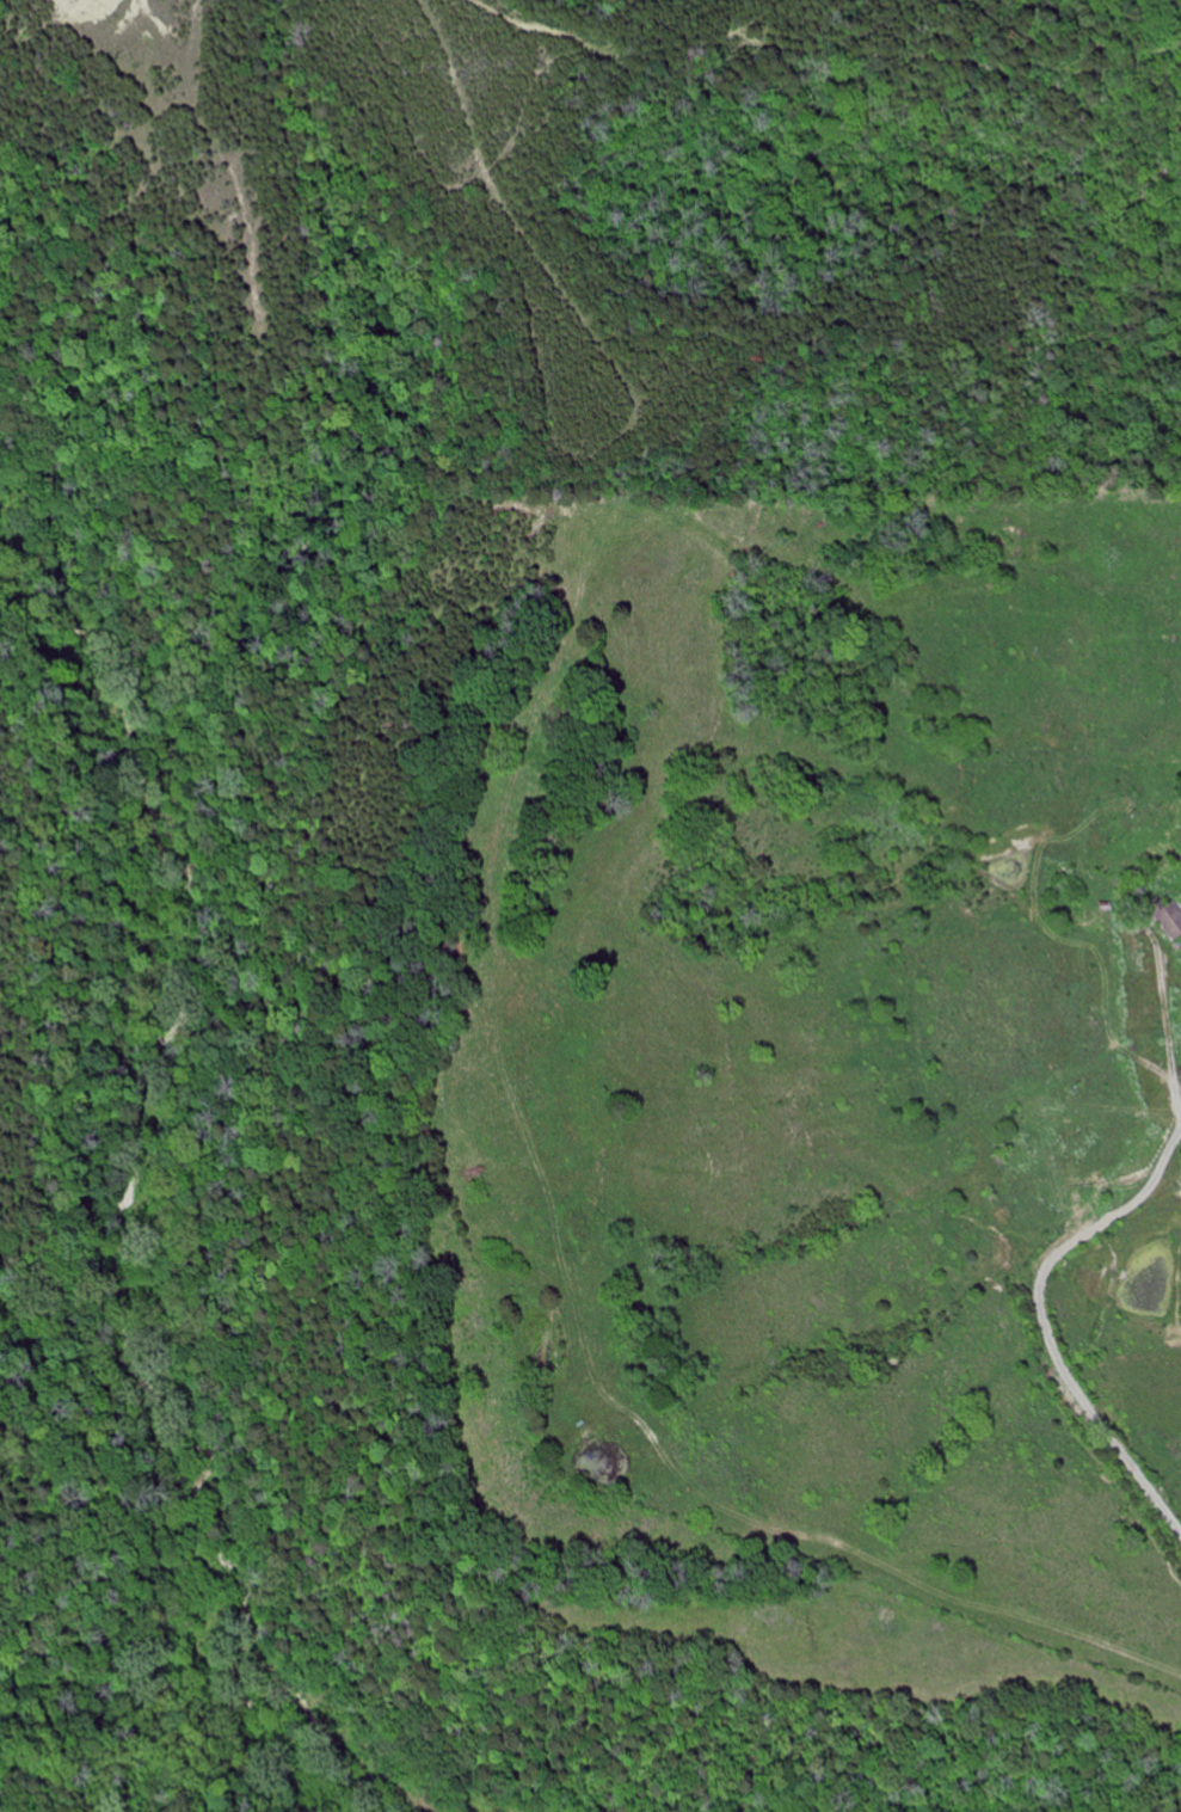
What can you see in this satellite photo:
building: (1167, 920)
road: (1044, 1323)

